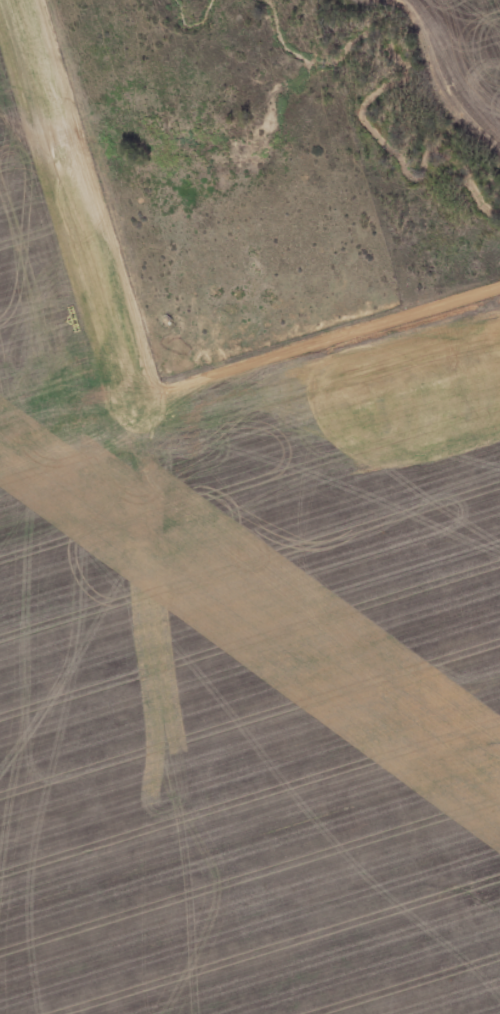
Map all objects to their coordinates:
road: (249, 361)

